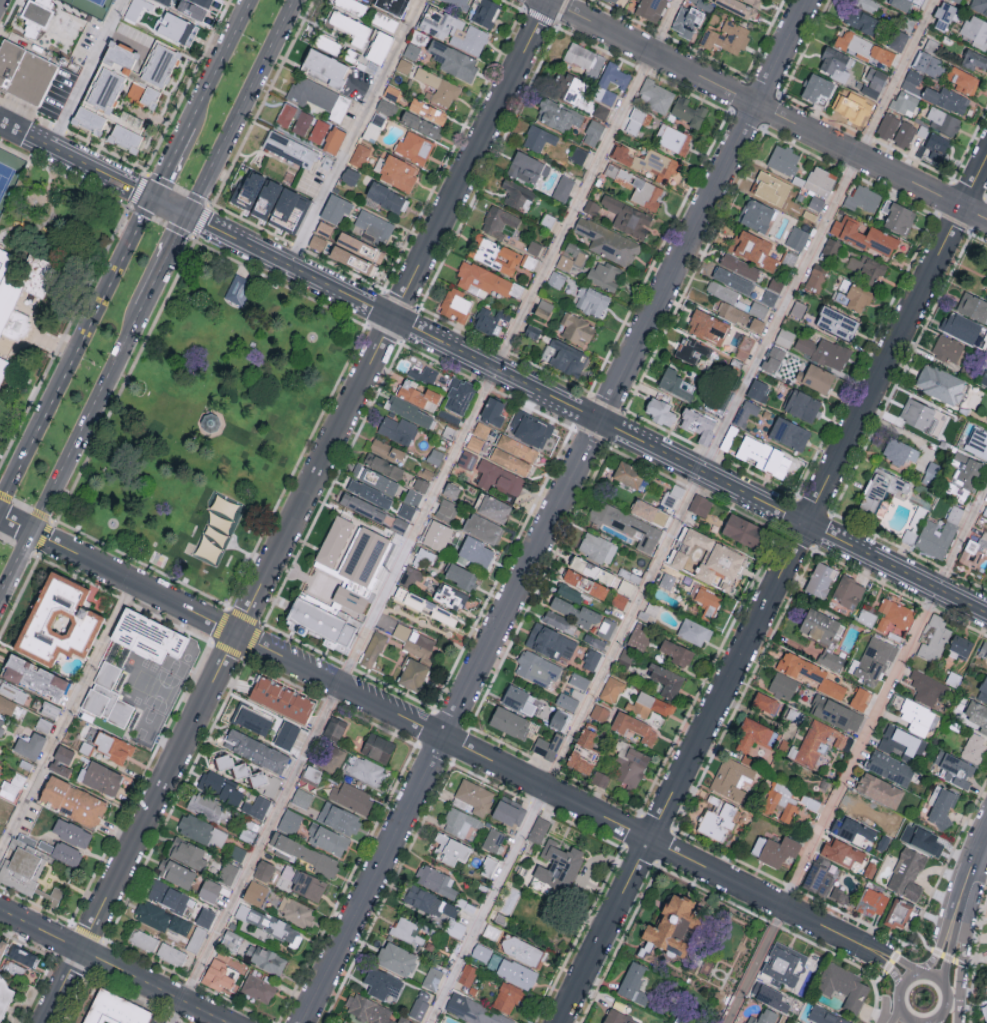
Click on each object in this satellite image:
building: (958, 0)
building: (167, 1)
building: (614, 1)
building: (203, 2)
building: (754, 2)
building: (458, 3)
building: (900, 3)
building: (866, 4)
building: (393, 5)
building: (979, 5)
park: (93, 6)
building: (352, 6)
building: (191, 8)
building: (650, 9)
building: (737, 9)
building: (142, 12)
building: (486, 12)
building: (944, 14)
building: (37, 15)
building: (686, 20)
building: (351, 26)
building: (177, 27)
building: (453, 30)
building: (976, 30)
building: (726, 37)
building: (898, 39)
building: (379, 46)
building: (932, 46)
building: (867, 47)
building: (411, 50)
building: (454, 59)
building: (585, 59)
building: (975, 60)
road: (219, 61)
building: (836, 63)
building: (159, 64)
building: (929, 64)
building: (404, 65)
building: (324, 67)
building: (24, 73)
road: (87, 73)
building: (111, 73)
building: (963, 79)
building: (912, 80)
building: (873, 82)
building: (603, 84)
building: (816, 86)
building: (438, 87)
building: (568, 87)
building: (143, 93)
building: (656, 95)
building: (318, 96)
building: (947, 99)
building: (904, 102)
building: (386, 106)
road: (244, 107)
building: (854, 107)
road: (767, 109)
building: (427, 110)
building: (689, 111)
building: (285, 114)
building: (557, 114)
building: (88, 118)
building: (635, 120)
building: (944, 121)
building: (302, 122)
building: (421, 124)
building: (888, 125)
building: (374, 127)
building: (318, 130)
road: (355, 132)
building: (593, 132)
building: (905, 134)
building: (125, 136)
building: (539, 138)
building: (673, 138)
building: (333, 139)
building: (933, 146)
building: (414, 147)
building: (289, 148)
building: (578, 154)
building: (359, 155)
building: (784, 159)
road: (171, 160)
building: (648, 163)
building: (527, 166)
building: (398, 172)
park: (8, 173)
building: (349, 175)
building: (820, 180)
building: (563, 187)
building: (639, 187)
building: (771, 188)
building: (248, 189)
building: (517, 194)
traffic signals: (153, 197)
building: (387, 197)
building: (266, 198)
building: (863, 198)
building: (816, 202)
building: (591, 206)
building: (336, 208)
building: (288, 209)
building: (756, 214)
traffic signals: (190, 215)
building: (898, 216)
building: (628, 217)
building: (498, 220)
building: (324, 228)
building: (863, 235)
building: (796, 237)
building: (607, 241)
building: (317, 242)
building: (360, 246)
building: (534, 247)
building: (830, 247)
building: (753, 248)
building: (495, 254)
building: (571, 257)
building: (352, 260)
road: (166, 262)
building: (739, 266)
building: (865, 268)
building: (603, 275)
building: (816, 278)
building: (481, 279)
building: (556, 279)
building: (733, 279)
building: (985, 281)
building: (776, 284)
building: (239, 286)
building: (722, 291)
building: (852, 295)
building: (9, 296)
building: (769, 297)
building: (592, 301)
building: (455, 304)
building: (973, 306)
building: (543, 308)
building: (798, 309)
building: (742, 312)
building: (486, 321)
building: (837, 322)
building: (757, 324)
building: (708, 326)
building: (964, 328)
building: (577, 329)
building: (532, 331)
building: (785, 337)
building: (744, 347)
building: (948, 348)
road: (76, 350)
building: (693, 350)
building: (824, 351)
road: (493, 366)
building: (423, 373)
building: (3, 374)
building: (984, 377)
building: (816, 378)
building: (940, 383)
building: (676, 384)
building: (758, 390)
building: (418, 394)
building: (457, 400)
building: (803, 405)
building: (747, 409)
building: (493, 411)
building: (660, 411)
building: (412, 412)
building: (922, 416)
park: (205, 423)
building: (698, 424)
building: (398, 429)
building: (481, 429)
building: (531, 429)
building: (789, 433)
building: (730, 437)
building: (978, 442)
building: (475, 443)
building: (517, 447)
building: (387, 450)
building: (899, 451)
road: (70, 454)
building: (764, 456)
building: (510, 461)
building: (383, 465)
building: (930, 473)
building: (628, 474)
building: (963, 475)
building: (375, 478)
building: (500, 478)
building: (881, 489)
building: (451, 490)
building: (416, 491)
building: (369, 493)
building: (672, 496)
building: (700, 505)
building: (362, 506)
building: (494, 508)
building: (446, 510)
road: (295, 511)
building: (406, 511)
road: (557, 511)
road: (682, 511)
building: (649, 512)
building: (986, 512)
road: (427, 513)
building: (399, 524)
building: (626, 525)
building: (483, 528)
building: (743, 530)
building: (436, 534)
building: (938, 535)
building: (908, 536)
building: (382, 542)
building: (688, 544)
building: (338, 545)
building: (597, 547)
building: (476, 551)
building: (974, 551)
building: (425, 556)
building: (722, 565)
building: (591, 569)
building: (411, 576)
building: (461, 576)
building: (820, 579)
building: (585, 583)
road: (773, 591)
building: (848, 591)
building: (570, 593)
building: (451, 596)
building: (350, 598)
building: (619, 600)
building: (708, 602)
building: (649, 612)
building: (577, 613)
building: (444, 616)
building: (894, 619)
building: (58, 621)
building: (559, 622)
building: (385, 623)
building: (321, 624)
building: (606, 627)
building: (401, 631)
building: (694, 631)
building: (147, 636)
building: (639, 636)
building: (824, 636)
building: (934, 639)
building: (551, 642)
building: (419, 645)
building: (960, 645)
building: (373, 649)
building: (983, 649)
building: (677, 652)
building: (625, 658)
building: (591, 659)
building: (873, 659)
building: (537, 668)
building: (413, 674)
building: (34, 677)
building: (666, 680)
building: (783, 685)
building: (927, 688)
building: (612, 689)
building: (12, 691)
building: (983, 691)
building: (107, 696)
building: (519, 699)
building: (860, 699)
building: (281, 700)
building: (567, 701)
building: (765, 702)
building: (6, 705)
building: (649, 705)
building: (49, 709)
road: (391, 710)
building: (599, 712)
building: (836, 713)
road: (65, 714)
building: (977, 714)
building: (919, 717)
building: (655, 718)
building: (559, 719)
building: (253, 720)
building: (510, 722)
building: (634, 727)
building: (1, 728)
building: (334, 728)
building: (286, 735)
building: (754, 737)
building: (899, 742)
building: (816, 743)
building: (29, 745)
building: (112, 746)
building: (548, 746)
building: (378, 747)
building: (974, 747)
building: (256, 750)
building: (584, 752)
road: (855, 756)
building: (332, 758)
building: (61, 761)
building: (232, 765)
building: (630, 765)
building: (890, 768)
building: (954, 769)
building: (365, 770)
building: (312, 773)
building: (100, 778)
building: (258, 778)
building: (600, 779)
building: (732, 779)
building: (11, 787)
building: (221, 788)
building: (879, 790)
building: (475, 796)
building: (351, 797)
building: (301, 798)
building: (72, 801)
building: (781, 801)
building: (809, 802)
building: (259, 806)
building: (209, 807)
building: (943, 807)
building: (509, 812)
building: (339, 818)
building: (717, 818)
building: (290, 821)
building: (460, 822)
building: (538, 830)
building: (906, 830)
building: (202, 831)
building: (71, 833)
building: (857, 833)
building: (327, 839)
building: (493, 840)
building: (936, 842)
road: (978, 847)
building: (451, 849)
building: (775, 850)
building: (842, 851)
building: (62, 852)
building: (237, 852)
building: (187, 853)
building: (304, 853)
building: (488, 866)
building: (558, 866)
building: (263, 870)
building: (175, 873)
building: (228, 873)
building: (907, 873)
building: (27, 875)
building: (819, 878)
building: (436, 881)
building: (308, 886)
building: (209, 890)
building: (255, 893)
building: (839, 895)
building: (167, 896)
building: (429, 902)
building: (871, 902)
building: (505, 908)
building: (297, 912)
building: (898, 913)
building: (205, 917)
building: (160, 918)
road: (813, 921)
road: (949, 922)
building: (268, 924)
road: (956, 926)
building: (673, 927)
building: (454, 928)
building: (407, 931)
building: (492, 931)
building: (196, 939)
building: (142, 940)
building: (230, 940)
road: (964, 945)
building: (2, 947)
building: (521, 949)
road: (883, 950)
building: (481, 952)
building: (171, 954)
building: (21, 955)
road: (876, 957)
building: (265, 958)
building: (396, 959)
building: (784, 964)
road: (111, 966)
building: (511, 970)
building: (221, 974)
building: (467, 974)
building: (432, 978)
building: (383, 984)
building: (633, 984)
building: (843, 985)
building: (258, 988)
building: (985, 989)
building: (5, 995)
building: (769, 996)
road: (898, 997)
building: (507, 998)
building: (367, 1009)
building: (419, 1009)
building: (116, 1010)
building: (475, 1011)
building: (985, 1012)
road: (895, 1015)
building: (826, 1016)
building: (618, 1017)
building: (764, 1017)
building: (404, 1020)
road: (938, 1020)
building: (342, 1022)

